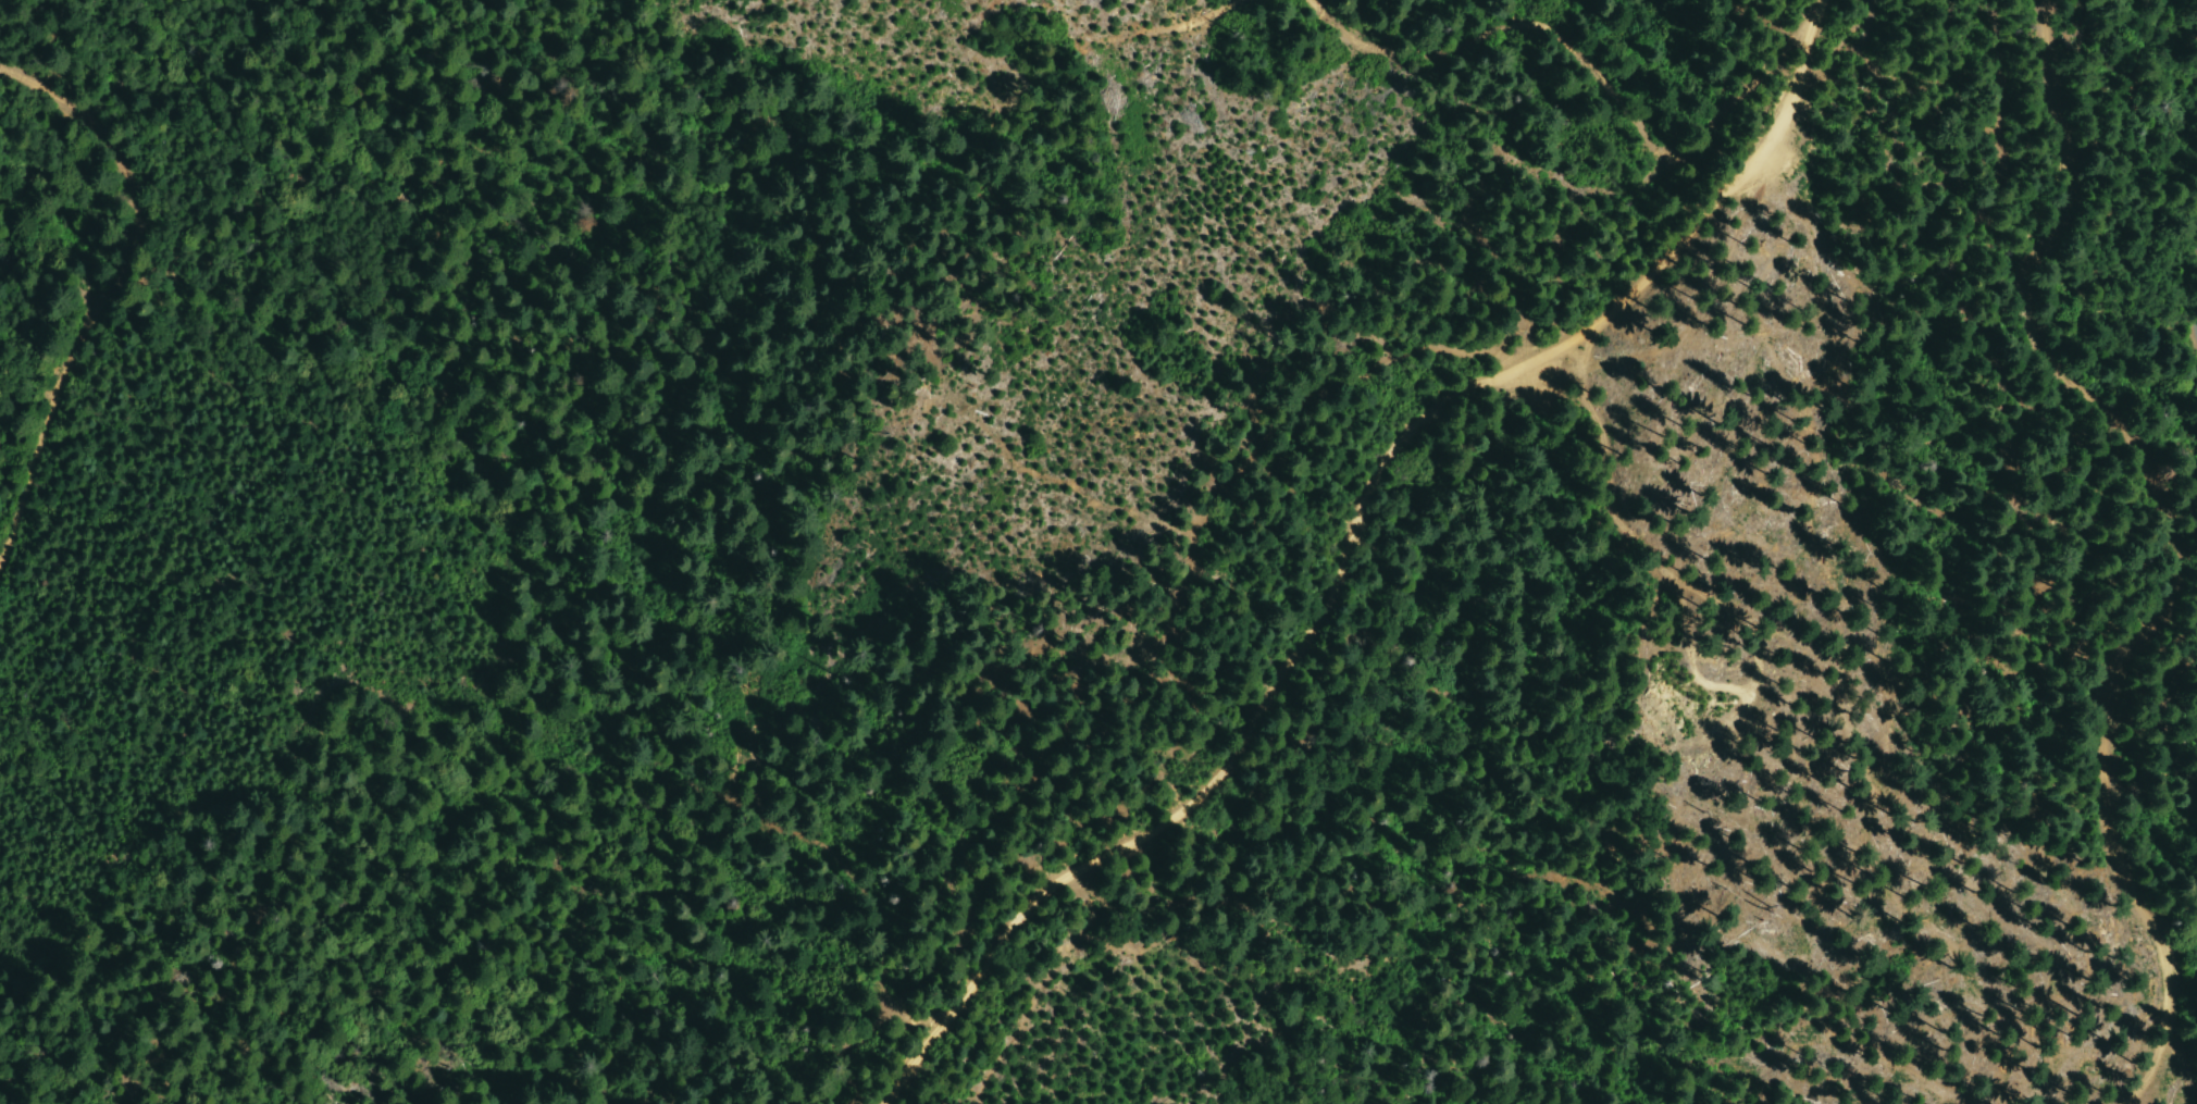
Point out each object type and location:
road: (107, 280)
road: (2182, 532)
road: (1351, 542)

